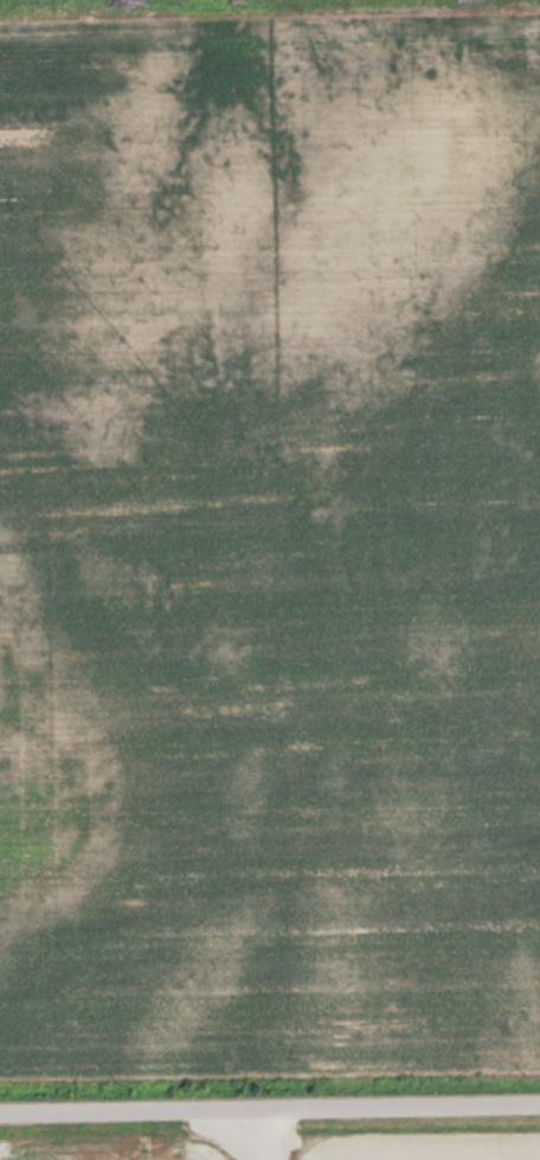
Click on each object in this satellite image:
road: (270, 1111)

